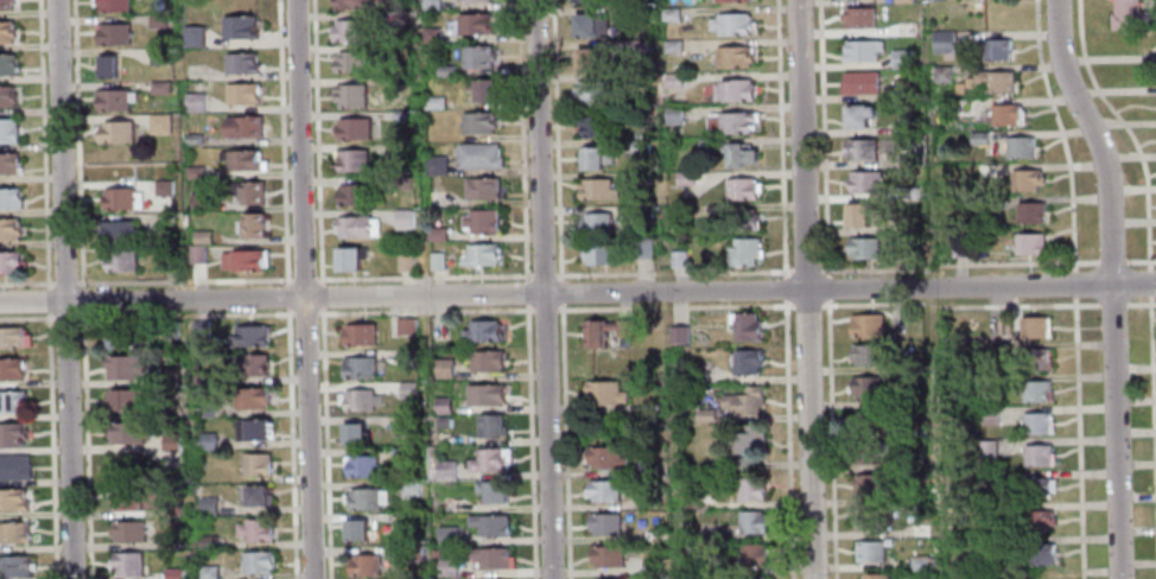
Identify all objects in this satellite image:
building: (585, 0)
building: (725, 0)
building: (474, 1)
building: (902, 1)
building: (6, 4)
building: (350, 5)
building: (113, 6)
building: (431, 6)
building: (668, 13)
building: (1125, 13)
building: (636, 15)
building: (857, 17)
building: (158, 23)
building: (729, 23)
building: (589, 24)
building: (475, 26)
building: (903, 28)
building: (241, 30)
building: (6, 32)
building: (113, 33)
building: (350, 33)
building: (431, 37)
building: (195, 38)
building: (941, 42)
building: (671, 45)
building: (636, 46)
building: (992, 47)
building: (860, 49)
building: (730, 56)
building: (158, 57)
building: (586, 57)
building: (478, 58)
building: (900, 58)
building: (350, 64)
building: (7, 65)
building: (243, 65)
building: (107, 69)
building: (446, 72)
building: (940, 74)
building: (992, 79)
building: (671, 81)
building: (858, 82)
building: (966, 82)
building: (957, 87)
building: (902, 88)
building: (159, 89)
building: (732, 89)
building: (591, 91)
building: (479, 93)
building: (243, 96)
building: (7, 97)
building: (350, 98)
building: (114, 101)
building: (196, 103)
building: (434, 103)
building: (961, 106)
building: (639, 113)
building: (856, 113)
building: (1003, 113)
building: (672, 115)
building: (401, 117)
building: (729, 121)
building: (478, 125)
building: (160, 126)
building: (592, 126)
building: (906, 126)
building: (244, 128)
road: (1125, 128)
building: (8, 131)
building: (354, 131)
road: (1062, 133)
building: (116, 134)
road: (820, 136)
building: (977, 136)
road: (282, 139)
road: (317, 139)
road: (779, 139)
building: (195, 141)
road: (43, 144)
road: (75, 144)
building: (1017, 145)
building: (639, 146)
building: (859, 147)
building: (728, 151)
building: (479, 157)
building: (592, 157)
building: (906, 159)
building: (243, 161)
building: (354, 161)
building: (8, 164)
building: (437, 165)
building: (196, 174)
building: (639, 178)
building: (682, 178)
building: (1023, 178)
building: (863, 180)
building: (739, 187)
building: (596, 189)
building: (164, 190)
building: (482, 190)
building: (249, 193)
building: (907, 193)
building: (354, 197)
building: (9, 199)
building: (122, 201)
building: (990, 202)
building: (199, 203)
building: (641, 211)
building: (1028, 211)
building: (856, 212)
building: (741, 218)
building: (404, 221)
building: (593, 222)
building: (483, 223)
building: (254, 228)
building: (356, 229)
building: (8, 230)
building: (119, 233)
building: (438, 236)
building: (203, 238)
building: (1027, 242)
building: (862, 246)
building: (641, 247)
building: (958, 247)
building: (741, 250)
building: (597, 253)
building: (198, 256)
building: (481, 256)
building: (677, 259)
building: (170, 260)
road: (1141, 260)
road: (1111, 261)
building: (121, 262)
building: (243, 262)
building: (349, 262)
building: (437, 262)
building: (9, 263)
building: (405, 263)
road: (957, 263)
road: (805, 271)
road: (672, 272)
road: (438, 276)
road: (304, 278)
road: (318, 278)
road: (184, 280)
road: (322, 281)
road: (25, 282)
road: (63, 282)
road: (287, 282)
road: (1150, 282)
road: (1110, 284)
road: (1075, 285)
road: (303, 288)
road: (825, 288)
road: (64, 289)
road: (527, 289)
road: (542, 289)
road: (561, 289)
road: (783, 289)
road: (804, 289)
road: (577, 293)
road: (287, 295)
road: (322, 295)
road: (81, 300)
road: (46, 301)
road: (1112, 304)
road: (1142, 304)
road: (807, 305)
road: (961, 305)
road: (287, 308)
road: (323, 310)
road: (555, 310)
road: (290, 312)
road: (307, 313)
road: (182, 314)
road: (64, 317)
road: (25, 318)
building: (865, 323)
building: (405, 325)
building: (744, 325)
building: (1002, 325)
building: (1031, 325)
building: (171, 327)
building: (482, 329)
building: (602, 331)
building: (358, 333)
building: (678, 333)
building: (252, 335)
building: (13, 337)
building: (116, 338)
building: (996, 345)
building: (864, 354)
building: (404, 356)
building: (1030, 357)
building: (483, 358)
building: (745, 361)
building: (254, 363)
building: (357, 365)
building: (11, 367)
building: (125, 367)
building: (443, 367)
building: (170, 374)
building: (697, 376)
building: (996, 381)
road: (1152, 382)
building: (864, 387)
building: (407, 389)
building: (1030, 389)
building: (603, 392)
building: (484, 393)
building: (255, 397)
building: (126, 399)
building: (360, 399)
building: (744, 400)
building: (11, 401)
building: (440, 405)
building: (204, 406)
building: (170, 409)
building: (705, 415)
building: (987, 415)
building: (868, 418)
building: (650, 420)
building: (443, 421)
building: (1035, 421)
building: (407, 422)
building: (491, 424)
building: (915, 428)
building: (255, 430)
building: (129, 432)
building: (352, 432)
building: (11, 434)
building: (172, 439)
building: (207, 439)
road: (1079, 439)
road: (787, 440)
road: (831, 440)
road: (84, 445)
road: (291, 445)
building: (748, 445)
road: (50, 446)
road: (324, 446)
building: (984, 448)
building: (865, 451)
building: (399, 452)
building: (1036, 453)
building: (604, 456)
building: (489, 459)
building: (897, 463)
building: (258, 464)
building: (361, 464)
building: (201, 466)
building: (14, 467)
building: (444, 469)
building: (646, 469)
building: (990, 481)
building: (868, 485)
building: (408, 488)
building: (1036, 488)
building: (490, 489)
building: (602, 489)
building: (750, 489)
building: (260, 495)
building: (128, 498)
building: (366, 498)
building: (12, 500)
building: (647, 501)
building: (699, 502)
building: (210, 504)
building: (869, 517)
building: (1034, 520)
building: (751, 521)
building: (604, 522)
building: (488, 524)
building: (355, 528)
building: (258, 529)
building: (131, 530)
building: (919, 532)
building: (14, 533)
building: (445, 534)
building: (650, 535)
building: (170, 540)
building: (210, 540)
building: (992, 543)
building: (870, 551)
building: (411, 552)
building: (1034, 553)
building: (752, 554)
building: (605, 555)
building: (490, 558)
building: (259, 561)
building: (129, 562)
building: (920, 562)
building: (362, 564)
building: (690, 564)
building: (15, 566)
building: (649, 566)
building: (445, 567)
building: (210, 572)
building: (176, 573)
building: (875, 575)
building: (754, 577)
building: (1044, 577)
building: (606, 578)

